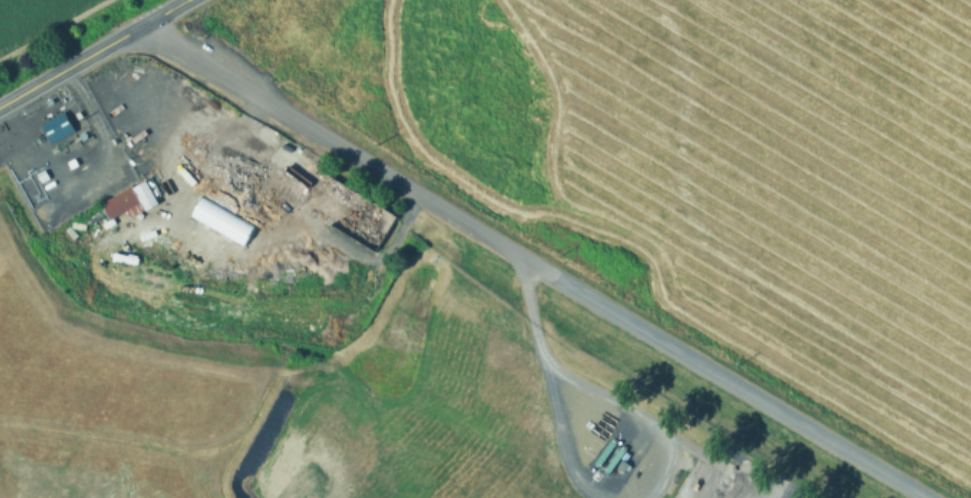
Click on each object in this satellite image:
crop: (25, 14)
road: (163, 14)
road: (69, 67)
road: (82, 97)
building: (56, 126)
building: (121, 130)
building: (123, 198)
building: (343, 234)
road: (532, 263)
road: (530, 304)
road: (629, 408)
road: (560, 430)

